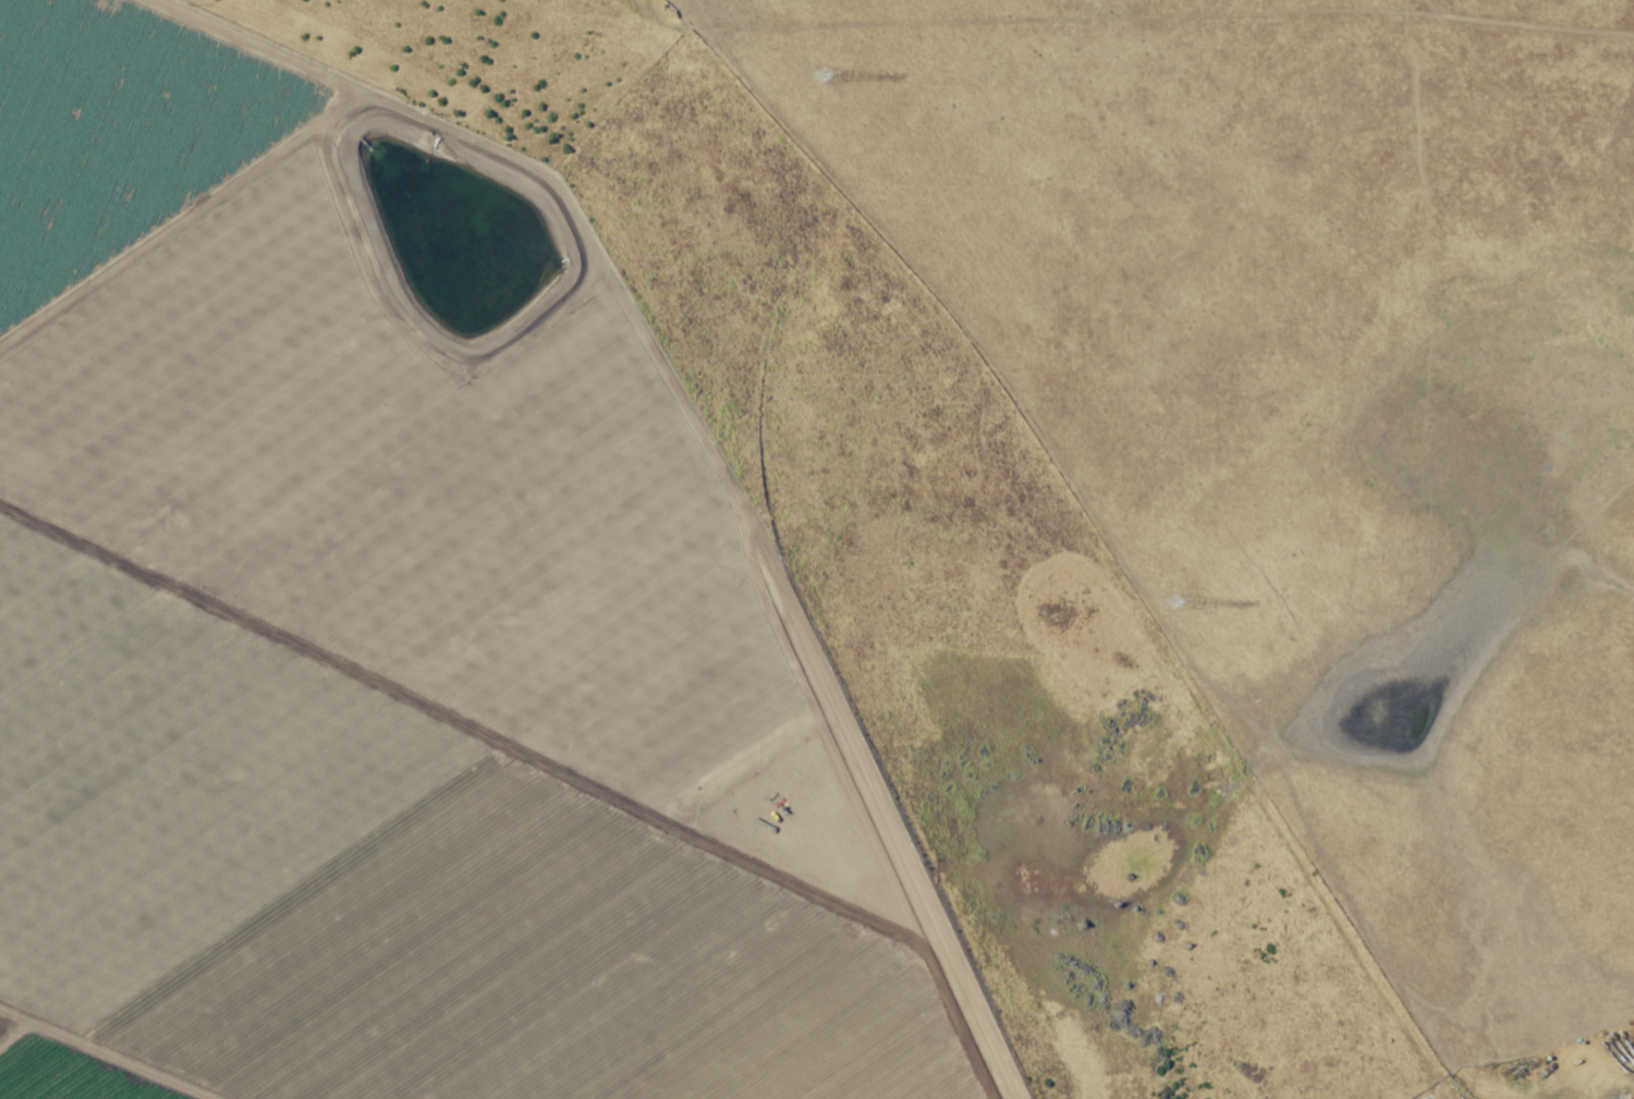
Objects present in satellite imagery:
road: (704, 61)
power tower: (821, 74)
road: (429, 135)
power tower: (1173, 602)
crop: (389, 661)
road: (65, 1070)

